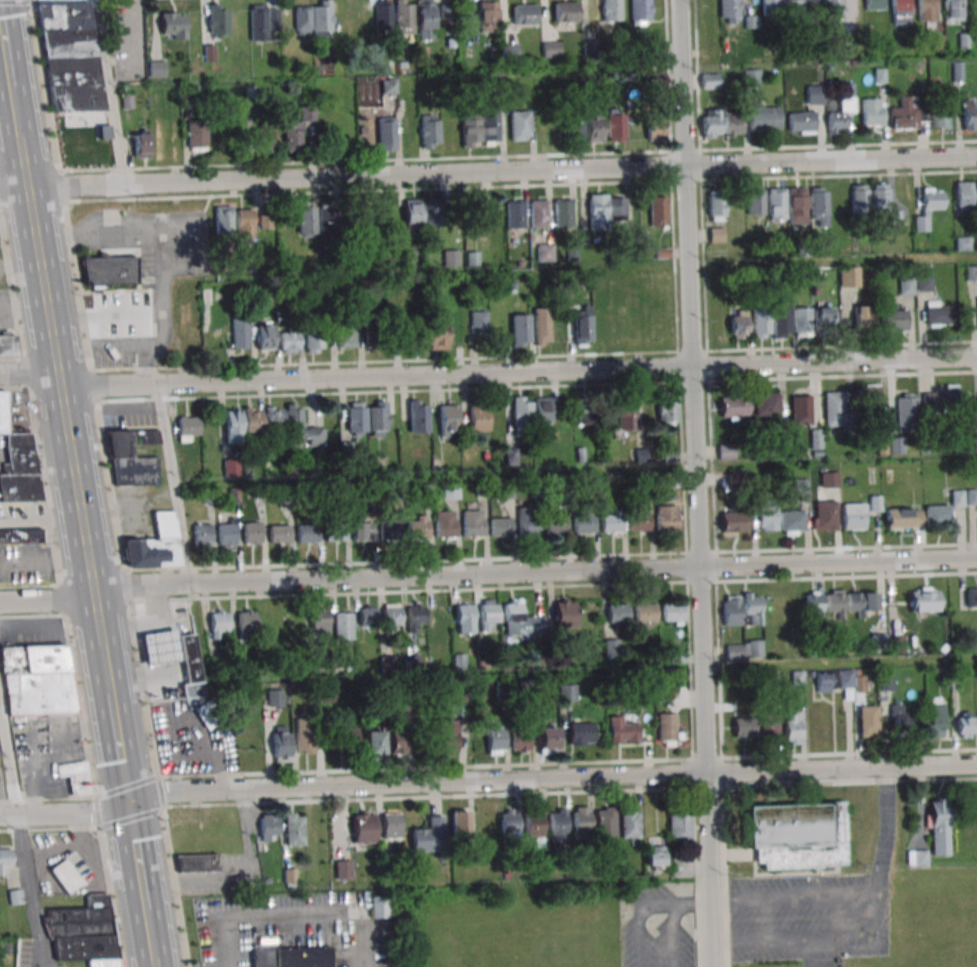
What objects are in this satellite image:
building: (812, 4)
building: (832, 4)
building: (874, 4)
building: (790, 5)
building: (770, 6)
building: (611, 10)
building: (729, 10)
building: (926, 10)
building: (953, 10)
building: (565, 11)
building: (900, 11)
building: (640, 12)
building: (524, 14)
building: (383, 16)
building: (404, 16)
building: (487, 16)
building: (312, 18)
building: (217, 19)
building: (425, 19)
building: (262, 21)
building: (173, 25)
building: (590, 48)
building: (550, 49)
road: (2, 51)
building: (509, 51)
building: (70, 57)
building: (156, 68)
building: (957, 71)
building: (751, 77)
building: (709, 80)
building: (388, 87)
road: (109, 92)
building: (814, 94)
road: (12, 107)
building: (872, 111)
building: (908, 112)
building: (840, 115)
building: (969, 116)
building: (764, 118)
building: (940, 118)
building: (801, 121)
building: (730, 122)
building: (712, 123)
building: (519, 125)
building: (615, 125)
building: (575, 128)
building: (594, 128)
building: (479, 129)
building: (655, 129)
building: (297, 130)
building: (429, 131)
building: (554, 131)
building: (196, 136)
building: (261, 137)
building: (386, 137)
building: (141, 144)
road: (488, 170)
building: (976, 184)
building: (963, 195)
building: (859, 197)
building: (755, 201)
building: (777, 203)
building: (716, 205)
building: (797, 205)
building: (883, 205)
building: (819, 206)
building: (928, 208)
building: (596, 210)
building: (657, 210)
building: (433, 211)
building: (473, 211)
building: (536, 213)
building: (560, 213)
building: (412, 214)
building: (512, 214)
building: (224, 220)
building: (306, 220)
building: (265, 221)
building: (244, 223)
building: (328, 225)
building: (716, 234)
road: (157, 246)
building: (544, 252)
building: (451, 257)
building: (108, 262)
building: (848, 276)
building: (924, 283)
building: (906, 288)
road: (22, 304)
building: (938, 312)
road: (107, 313)
building: (863, 316)
building: (825, 318)
building: (895, 319)
building: (802, 321)
building: (782, 323)
building: (477, 324)
building: (603, 324)
building: (738, 324)
building: (761, 324)
building: (583, 325)
building: (542, 326)
building: (520, 329)
building: (239, 333)
building: (343, 335)
building: (437, 335)
building: (373, 336)
building: (412, 337)
building: (264, 338)
building: (313, 340)
building: (287, 342)
building: (7, 345)
road: (487, 374)
road: (58, 391)
building: (940, 398)
building: (869, 402)
building: (766, 404)
building: (734, 406)
building: (667, 408)
building: (542, 409)
building: (800, 409)
building: (521, 410)
building: (585, 410)
building: (2, 412)
building: (836, 412)
building: (906, 412)
building: (625, 414)
building: (417, 416)
building: (273, 418)
building: (356, 418)
building: (377, 418)
building: (478, 418)
building: (448, 419)
building: (240, 423)
building: (302, 427)
building: (188, 428)
building: (816, 438)
building: (119, 443)
building: (896, 445)
building: (882, 446)
building: (726, 451)
building: (20, 452)
building: (511, 456)
building: (231, 467)
building: (135, 471)
building: (736, 478)
building: (829, 479)
road: (696, 483)
building: (19, 486)
road: (174, 489)
building: (451, 490)
building: (507, 490)
building: (937, 514)
building: (824, 515)
building: (853, 516)
building: (664, 517)
building: (767, 517)
building: (903, 519)
building: (526, 520)
building: (637, 521)
building: (733, 521)
building: (609, 522)
building: (791, 522)
building: (471, 523)
building: (581, 523)
building: (164, 524)
building: (443, 524)
building: (554, 524)
building: (499, 526)
building: (416, 528)
building: (388, 529)
building: (362, 530)
building: (333, 531)
building: (250, 532)
building: (305, 532)
building: (225, 533)
building: (278, 533)
building: (20, 534)
building: (201, 534)
building: (153, 551)
road: (42, 560)
road: (488, 577)
building: (971, 597)
building: (923, 601)
building: (861, 602)
building: (813, 604)
building: (834, 604)
building: (751, 609)
building: (562, 610)
building: (731, 610)
building: (643, 611)
building: (671, 611)
building: (511, 612)
building: (463, 613)
building: (487, 613)
building: (615, 613)
building: (390, 615)
building: (414, 615)
building: (440, 615)
building: (366, 616)
building: (245, 620)
building: (217, 621)
building: (317, 621)
building: (342, 625)
building: (878, 641)
building: (158, 646)
building: (744, 649)
building: (188, 657)
building: (34, 658)
road: (103, 670)
building: (835, 681)
building: (39, 693)
building: (462, 695)
building: (275, 697)
building: (936, 716)
building: (900, 718)
building: (867, 720)
building: (743, 725)
building: (769, 727)
building: (962, 727)
building: (666, 729)
building: (792, 729)
building: (622, 730)
building: (303, 733)
building: (580, 733)
building: (346, 737)
building: (447, 737)
building: (495, 739)
building: (519, 740)
building: (546, 740)
building: (401, 742)
building: (280, 743)
building: (374, 743)
road: (116, 750)
building: (62, 768)
road: (486, 780)
building: (77, 781)
traffic signals: (127, 808)
building: (460, 821)
building: (508, 822)
building: (581, 822)
building: (629, 823)
building: (391, 824)
building: (557, 824)
building: (606, 824)
building: (532, 825)
building: (679, 826)
building: (269, 827)
building: (363, 827)
building: (939, 827)
road: (885, 828)
building: (294, 829)
road: (24, 834)
building: (797, 835)
building: (428, 836)
road: (134, 855)
building: (654, 857)
building: (5, 858)
building: (917, 858)
building: (196, 863)
building: (680, 867)
building: (343, 868)
building: (65, 876)
road: (795, 900)
road: (645, 905)
building: (378, 907)
road: (299, 912)
parking lot: (334, 925)
road: (146, 930)
building: (84, 931)
parking lot: (231, 931)
road: (672, 934)
road: (812, 937)
building: (301, 957)
road: (150, 963)

